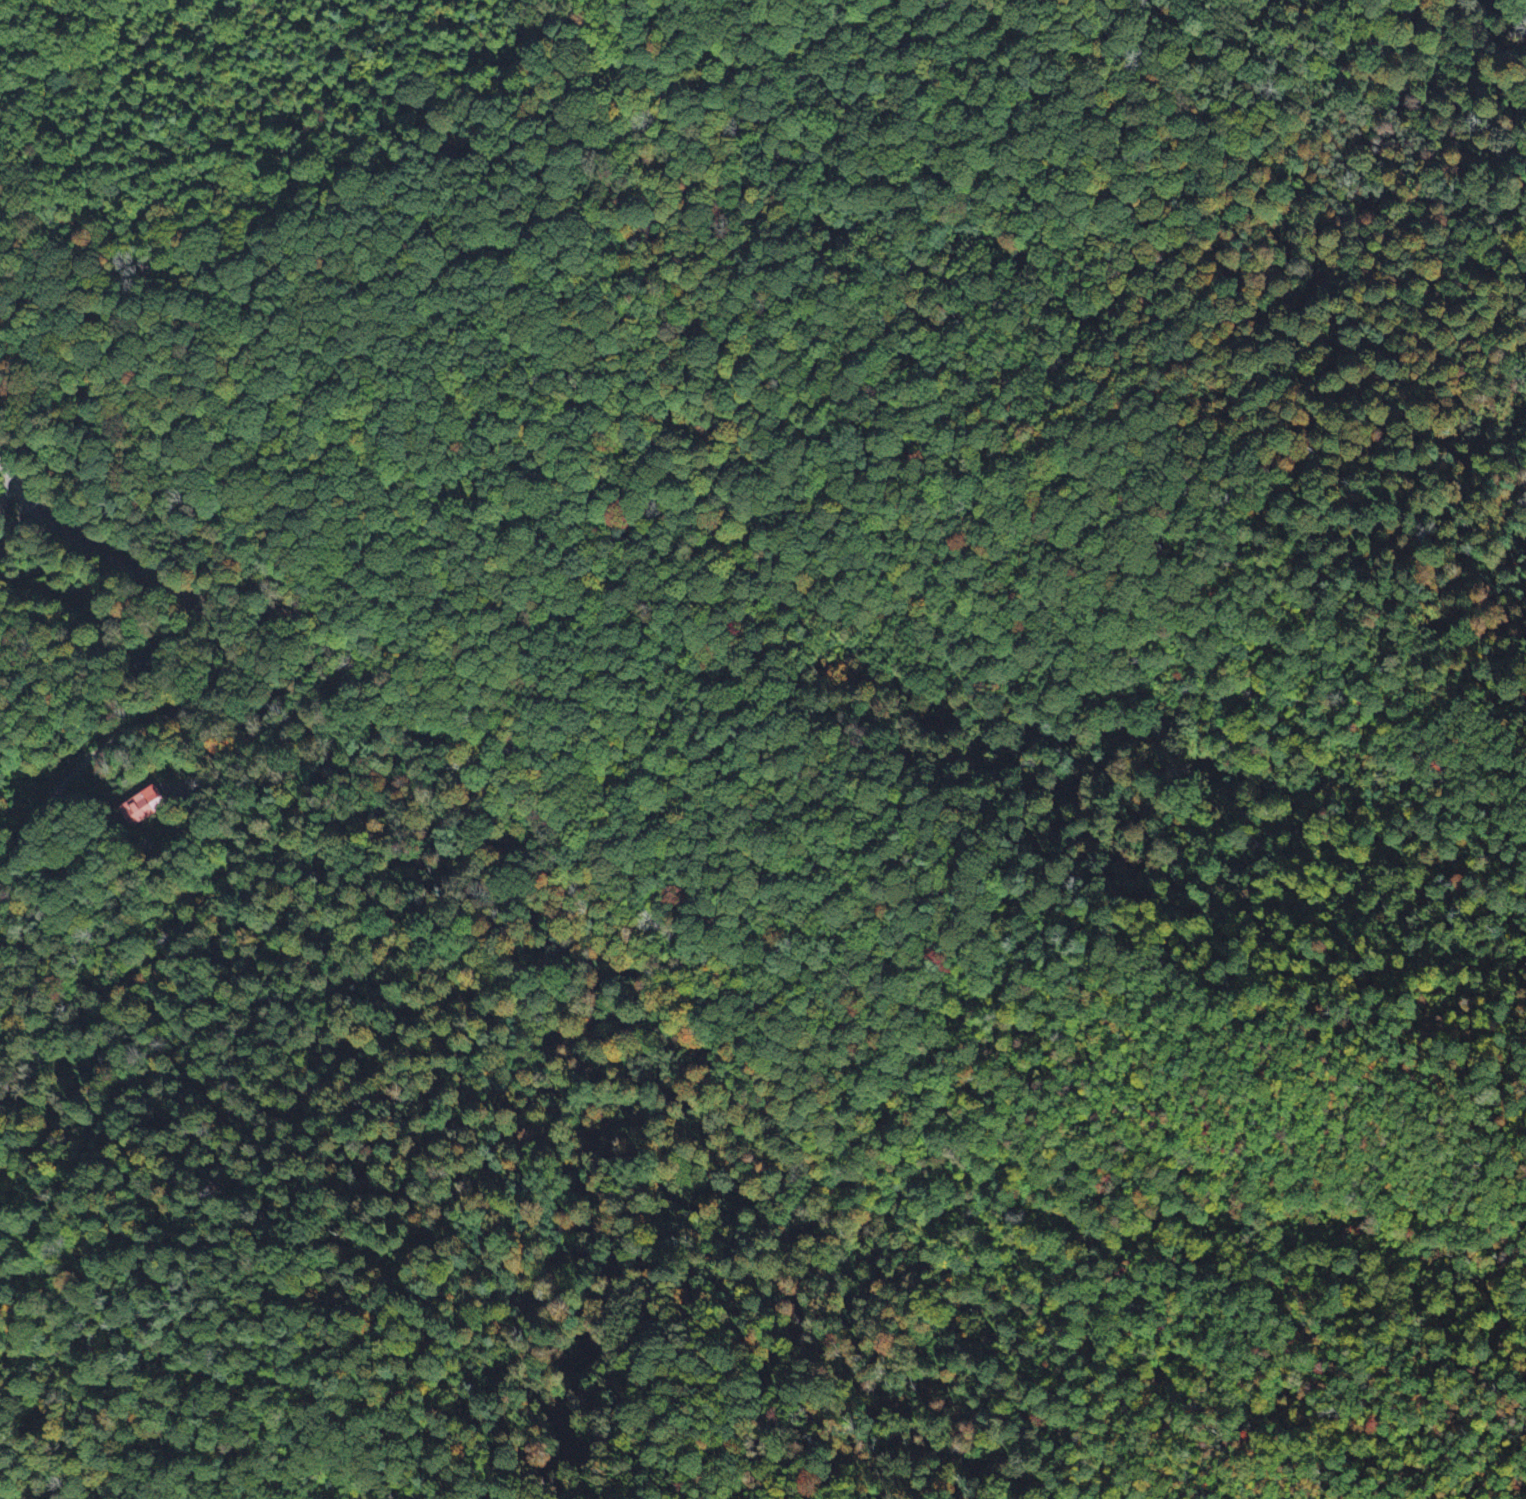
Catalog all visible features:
road: (26, 13)
road: (11, 482)
road: (13, 526)
road: (197, 697)

